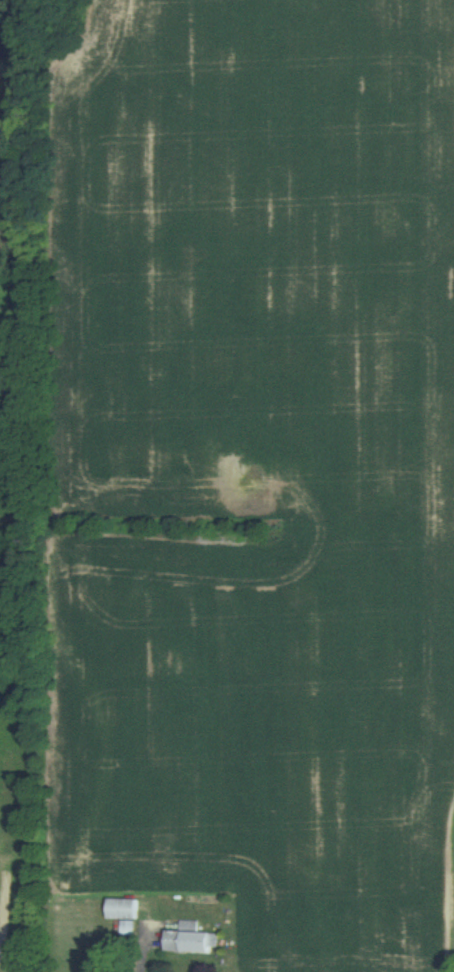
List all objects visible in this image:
building: (121, 910)
building: (190, 940)
road: (148, 946)

